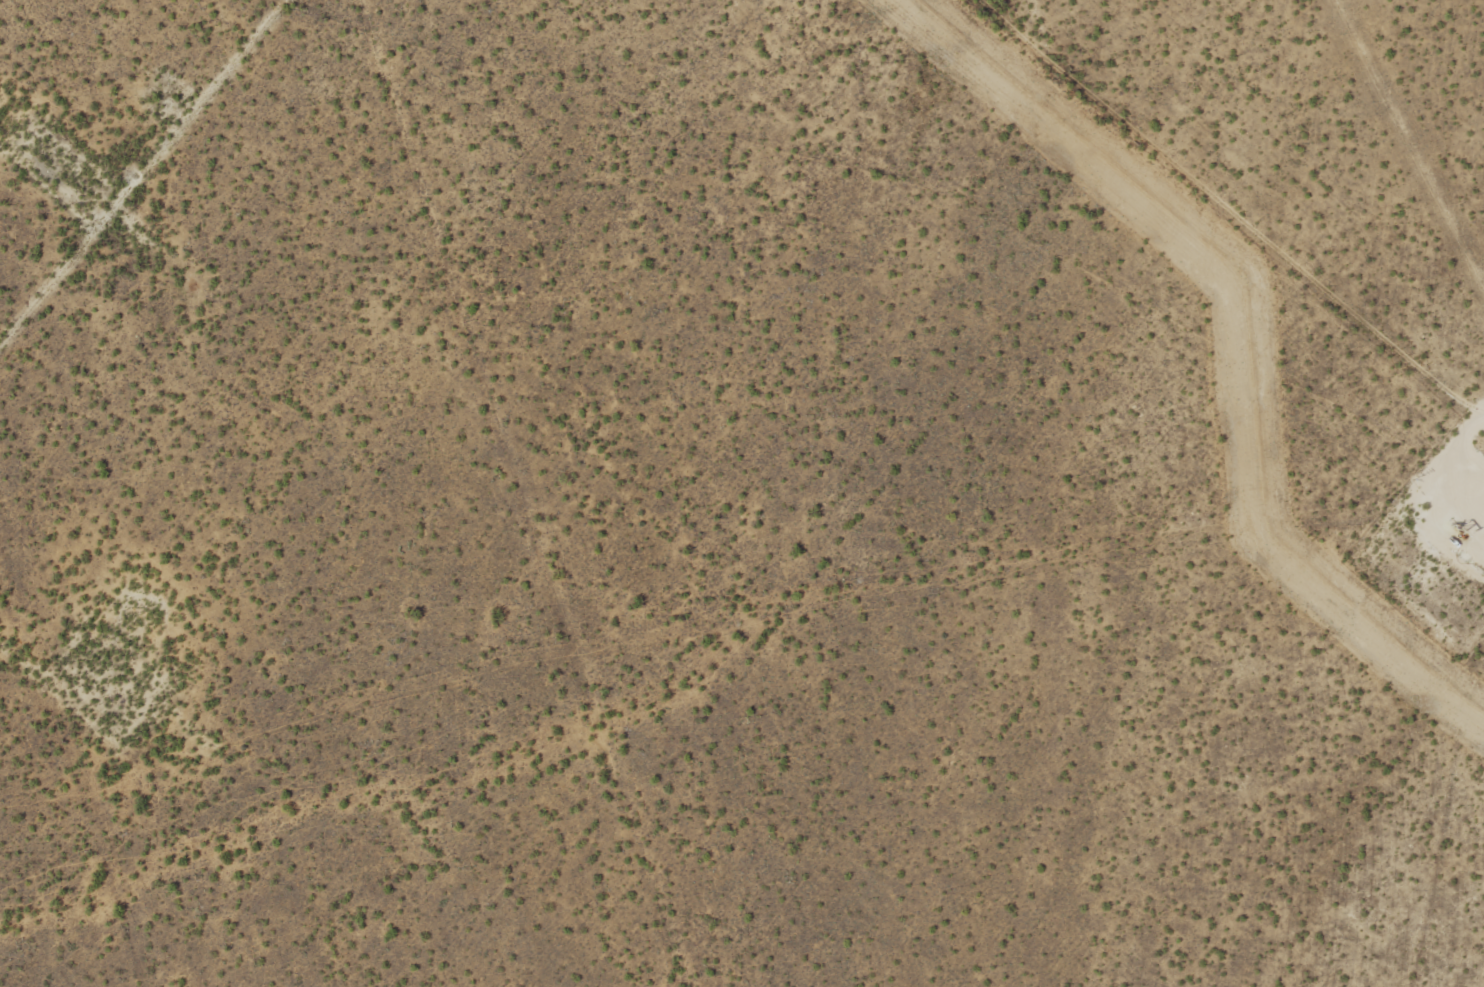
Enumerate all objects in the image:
road: (142, 170)
road: (532, 491)

